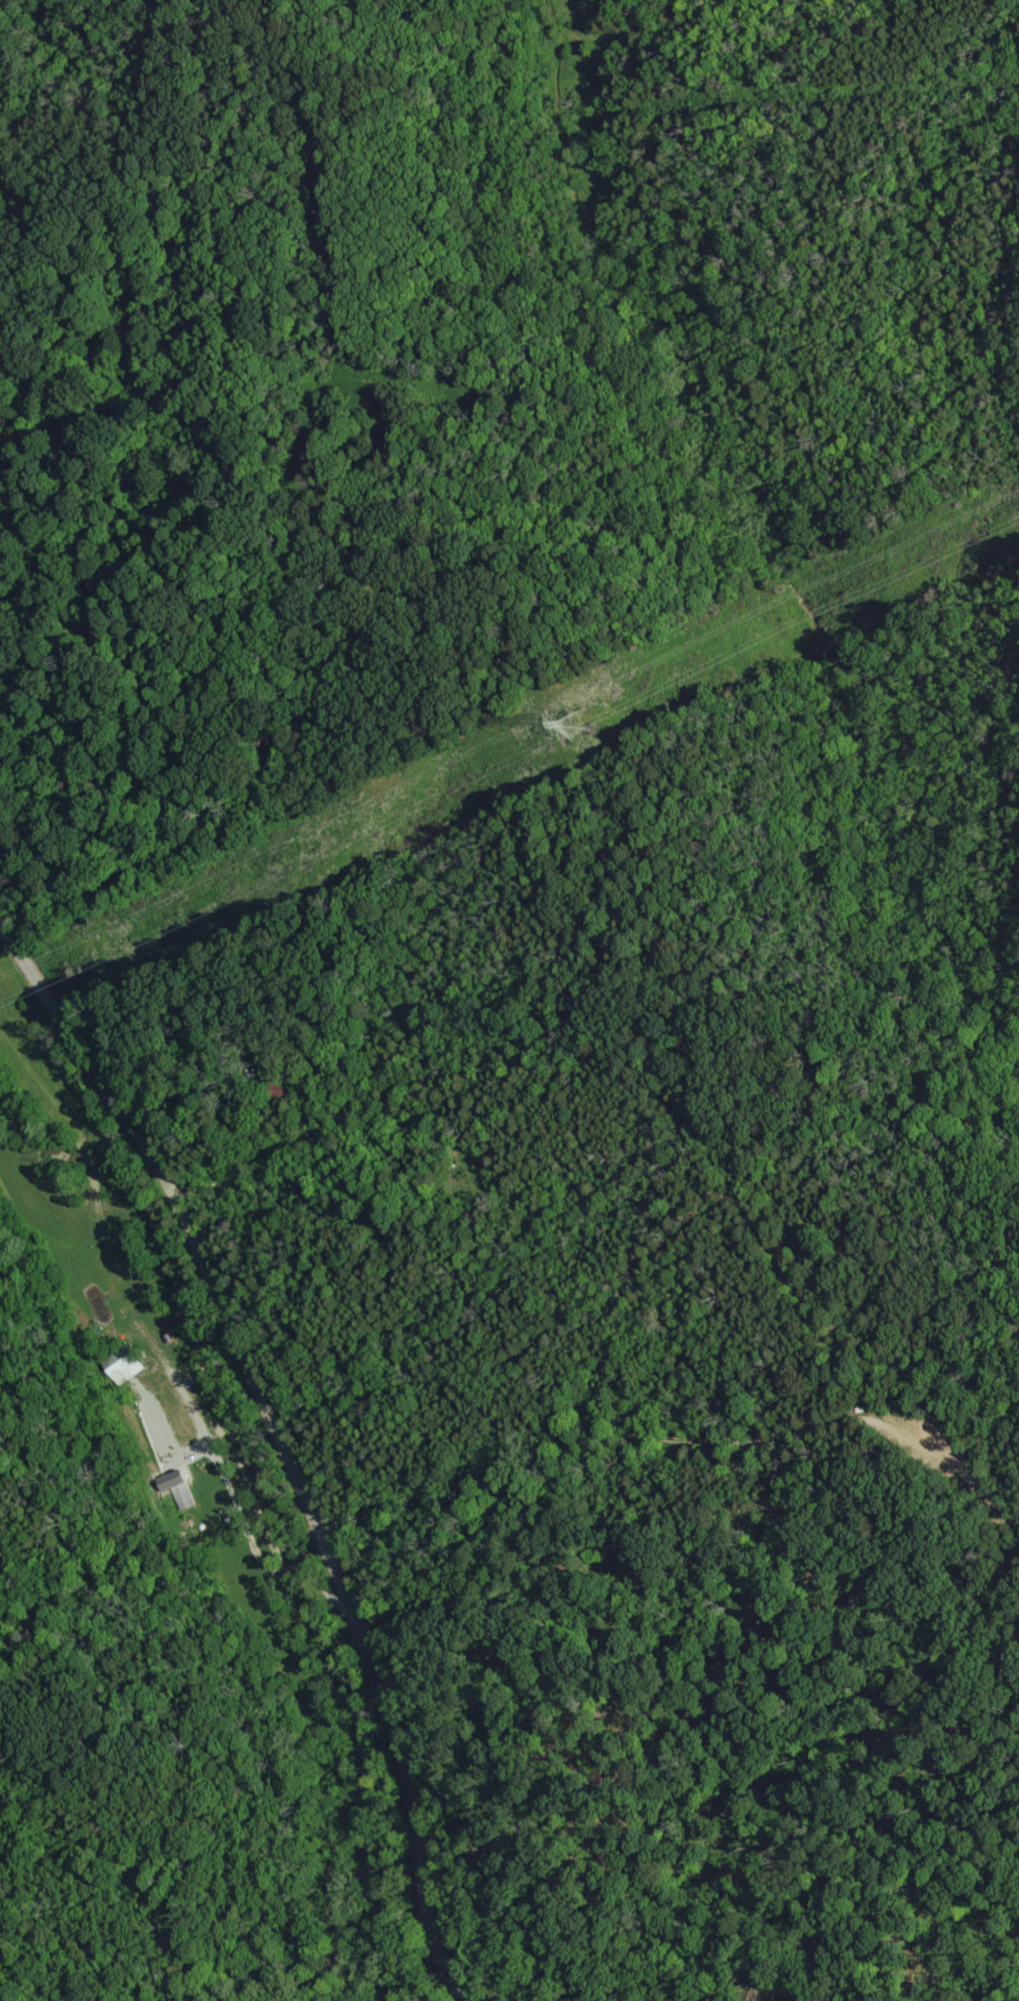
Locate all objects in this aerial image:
road: (632, 34)
power tower: (568, 722)
road: (278, 1449)
building: (178, 1486)

